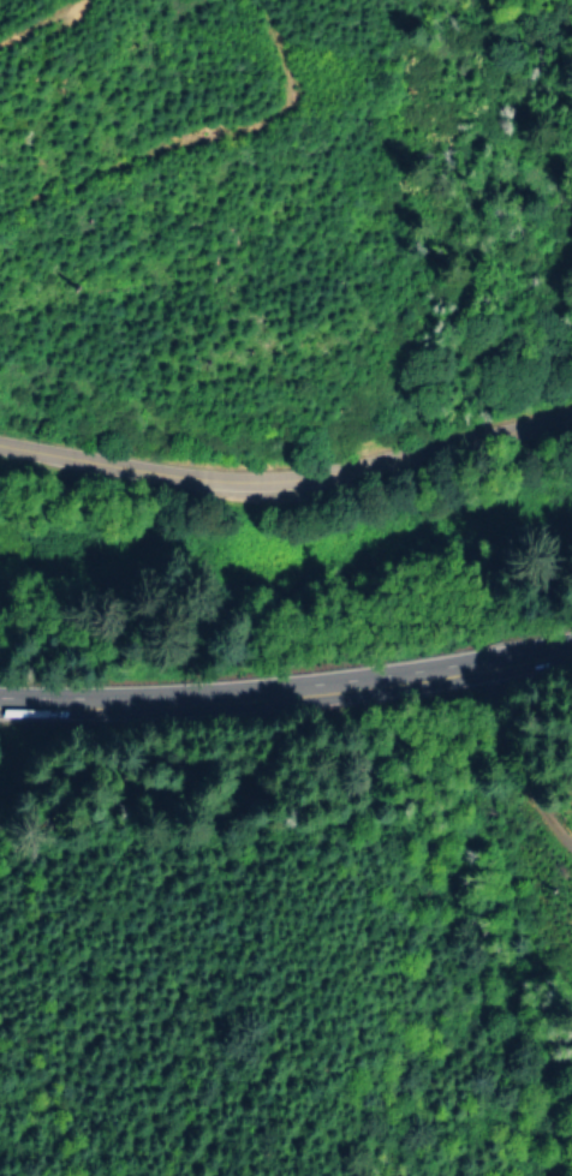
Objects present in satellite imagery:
road: (285, 455)
road: (286, 679)

